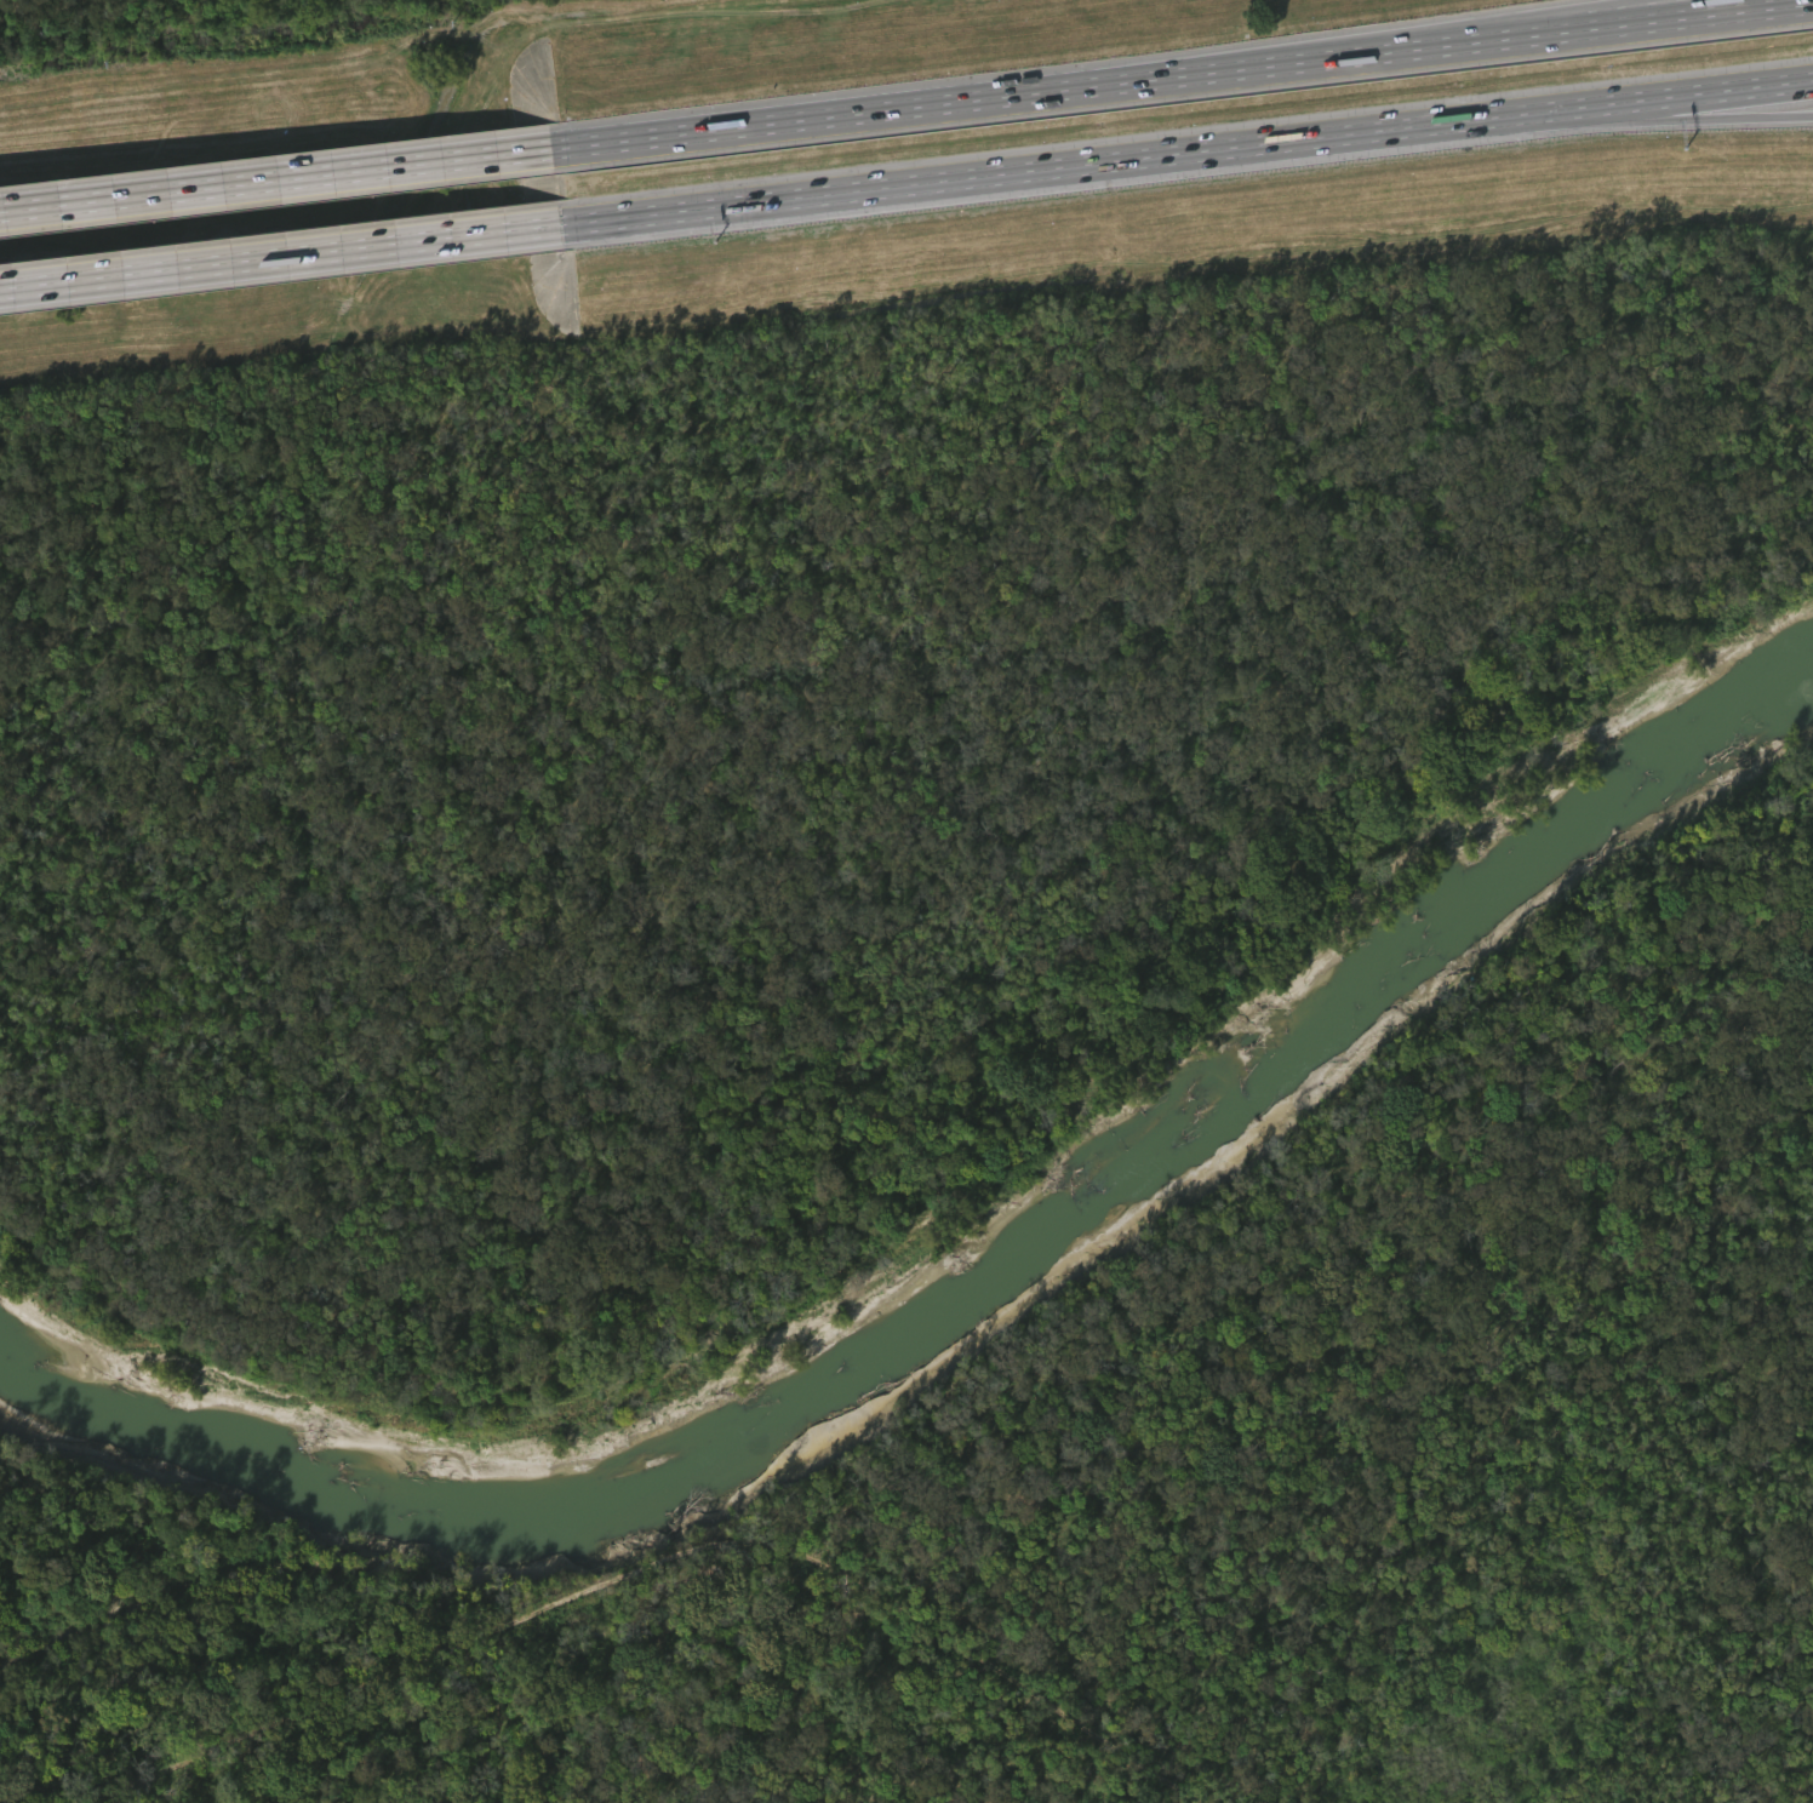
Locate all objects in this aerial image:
road: (1355, 44)
road: (1182, 74)
road: (1628, 101)
road: (1628, 119)
road: (1001, 173)
road: (276, 179)
road: (280, 256)
river: (1145, 1143)
river: (201, 1425)
river: (208, 1579)

